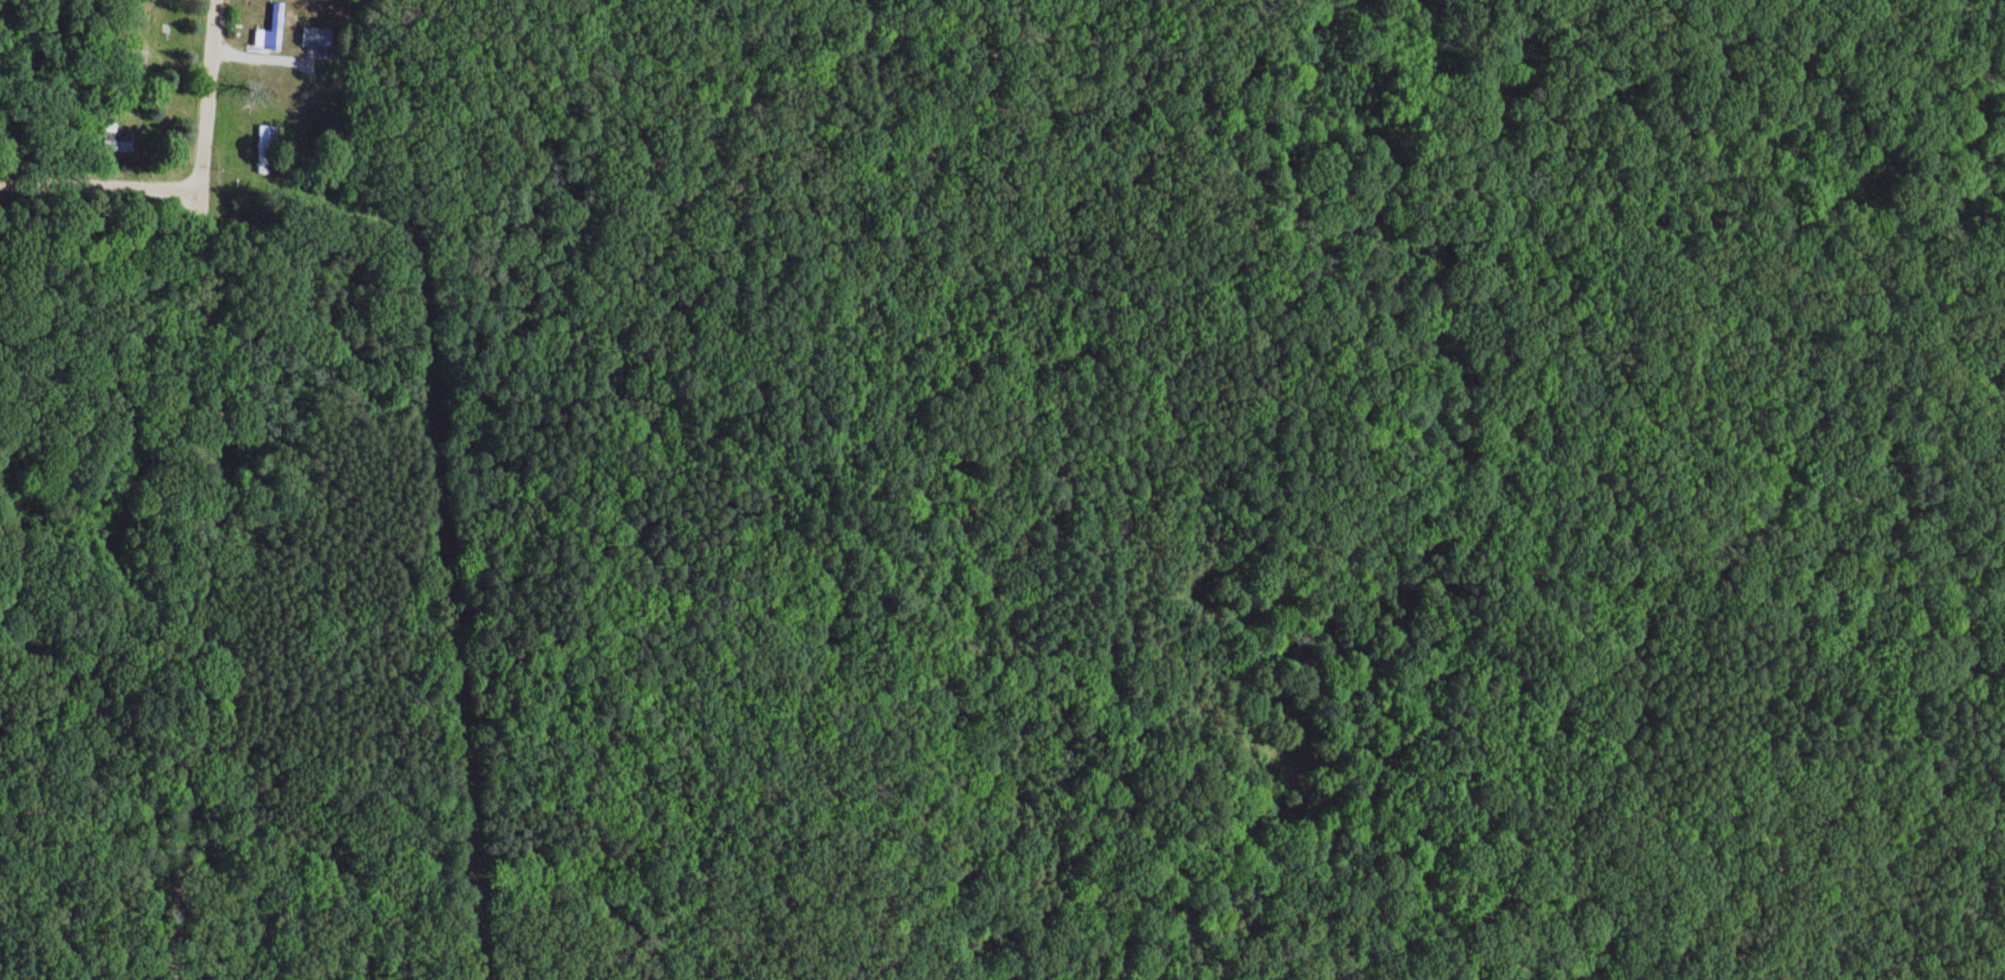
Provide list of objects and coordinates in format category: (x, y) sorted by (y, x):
building: (269, 30)
building: (316, 41)
road: (210, 97)
building: (115, 138)
building: (265, 149)
road: (102, 192)
road: (1367, 573)
road: (191, 587)
road: (85, 823)
road: (437, 857)

